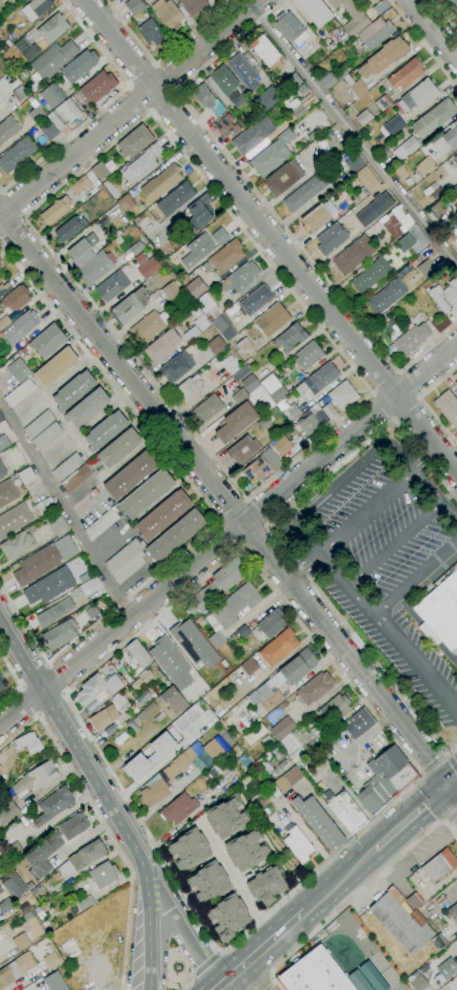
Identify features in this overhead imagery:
building: (19, 0)
building: (178, 0)
building: (212, 0)
building: (1, 1)
building: (452, 2)
building: (134, 6)
building: (193, 6)
building: (380, 7)
building: (36, 8)
building: (315, 11)
building: (167, 15)
road: (444, 15)
building: (351, 16)
building: (291, 28)
building: (52, 29)
road: (433, 30)
building: (151, 33)
building: (375, 33)
building: (1, 39)
road: (422, 43)
building: (7, 44)
building: (26, 49)
building: (267, 54)
building: (384, 57)
road: (162, 59)
building: (52, 60)
building: (79, 66)
building: (3, 67)
building: (243, 72)
building: (23, 74)
building: (406, 74)
road: (143, 75)
road: (166, 77)
building: (332, 78)
building: (224, 85)
building: (34, 86)
building: (355, 87)
building: (96, 88)
building: (19, 93)
building: (112, 93)
building: (52, 95)
building: (419, 95)
road: (138, 98)
building: (268, 98)
building: (207, 100)
road: (162, 102)
building: (383, 103)
road: (107, 105)
road: (129, 107)
building: (69, 109)
building: (36, 114)
building: (364, 118)
building: (433, 119)
building: (56, 120)
building: (392, 125)
building: (226, 126)
building: (8, 129)
building: (49, 130)
road: (354, 134)
building: (312, 135)
building: (253, 136)
building: (446, 139)
building: (134, 141)
building: (406, 148)
building: (17, 154)
building: (272, 154)
building: (456, 157)
building: (354, 163)
building: (142, 164)
building: (456, 168)
building: (103, 169)
building: (423, 169)
building: (284, 177)
building: (366, 180)
building: (161, 182)
building: (79, 185)
building: (456, 185)
road: (1, 190)
building: (427, 191)
building: (306, 192)
building: (175, 199)
building: (451, 200)
building: (357, 201)
building: (126, 202)
road: (13, 204)
road: (266, 204)
building: (373, 208)
building: (437, 209)
building: (55, 210)
building: (200, 211)
building: (316, 218)
building: (396, 221)
building: (102, 222)
road: (11, 226)
building: (70, 228)
building: (117, 233)
building: (380, 236)
building: (219, 237)
road: (270, 237)
building: (331, 238)
building: (405, 242)
building: (136, 247)
building: (148, 247)
building: (82, 250)
building: (198, 250)
building: (354, 255)
building: (226, 256)
building: (0, 260)
building: (146, 265)
building: (0, 266)
building: (96, 267)
building: (426, 268)
building: (370, 275)
building: (240, 277)
building: (112, 285)
building: (196, 287)
building: (4, 288)
building: (171, 292)
building: (386, 296)
building: (445, 296)
building: (255, 300)
building: (13, 303)
building: (129, 307)
building: (209, 307)
building: (272, 319)
building: (202, 322)
building: (20, 327)
building: (149, 327)
building: (224, 327)
building: (290, 337)
building: (412, 338)
building: (48, 340)
building: (216, 345)
building: (162, 346)
building: (244, 347)
building: (308, 354)
building: (230, 365)
building: (176, 366)
building: (55, 367)
building: (19, 370)
building: (244, 370)
building: (237, 376)
building: (317, 380)
road: (384, 381)
building: (250, 382)
building: (456, 383)
road: (408, 384)
building: (273, 387)
building: (189, 389)
building: (73, 390)
building: (19, 393)
building: (239, 395)
building: (343, 395)
road: (422, 402)
road: (382, 406)
building: (87, 407)
building: (448, 408)
building: (207, 409)
road: (406, 409)
building: (289, 410)
building: (329, 410)
building: (319, 414)
building: (1, 417)
building: (235, 422)
building: (263, 422)
building: (39, 423)
building: (309, 425)
building: (105, 430)
building: (46, 436)
building: (3, 442)
building: (282, 446)
building: (118, 447)
building: (243, 449)
road: (425, 459)
building: (262, 465)
building: (67, 466)
building: (2, 472)
building: (131, 474)
building: (26, 475)
building: (77, 477)
road: (341, 481)
building: (95, 492)
building: (7, 493)
building: (146, 493)
road: (435, 494)
road: (245, 497)
road: (224, 499)
building: (43, 505)
road: (207, 505)
road: (232, 509)
road: (64, 510)
road: (255, 511)
road: (366, 511)
building: (163, 514)
building: (14, 519)
building: (101, 523)
building: (58, 524)
road: (227, 534)
road: (229, 534)
building: (175, 535)
road: (257, 539)
road: (278, 540)
road: (394, 542)
building: (16, 545)
parking lot: (382, 558)
building: (126, 560)
building: (37, 565)
road: (302, 565)
road: (333, 568)
road: (416, 582)
building: (218, 584)
building: (49, 585)
building: (90, 585)
building: (231, 611)
building: (55, 612)
building: (91, 612)
building: (440, 613)
building: (199, 620)
building: (272, 622)
road: (426, 629)
building: (243, 631)
building: (59, 634)
building: (193, 643)
building: (278, 647)
road: (402, 647)
building: (138, 655)
building: (170, 662)
building: (249, 666)
building: (142, 679)
road: (16, 680)
building: (281, 681)
building: (2, 685)
building: (98, 687)
building: (314, 688)
building: (118, 699)
building: (173, 700)
building: (107, 703)
building: (283, 704)
building: (335, 708)
building: (103, 717)
building: (159, 717)
building: (186, 717)
building: (137, 721)
building: (358, 723)
building: (282, 728)
building: (111, 729)
building: (235, 736)
road: (362, 736)
road: (73, 739)
building: (267, 741)
building: (28, 742)
building: (212, 750)
building: (301, 750)
building: (149, 755)
road: (444, 755)
road: (447, 756)
building: (268, 759)
building: (243, 760)
building: (179, 762)
road: (432, 764)
road: (452, 764)
building: (0, 768)
road: (421, 774)
building: (1, 775)
building: (207, 775)
building: (34, 778)
building: (288, 779)
building: (385, 779)
road: (451, 781)
traffic signals: (445, 787)
road: (403, 790)
building: (154, 792)
road: (451, 795)
building: (276, 796)
road: (166, 797)
building: (53, 805)
building: (179, 808)
building: (345, 811)
building: (8, 813)
building: (225, 816)
road: (452, 816)
road: (409, 818)
building: (319, 822)
road: (446, 822)
road: (102, 823)
building: (298, 843)
building: (54, 844)
building: (187, 849)
building: (15, 850)
building: (245, 850)
building: (82, 858)
building: (439, 865)
building: (103, 874)
road: (236, 879)
road: (339, 880)
building: (207, 882)
building: (13, 884)
building: (266, 886)
building: (35, 890)
road: (354, 896)
building: (86, 902)
building: (5, 904)
building: (452, 912)
building: (227, 916)
building: (402, 919)
building: (45, 922)
road: (183, 926)
road: (148, 927)
road: (274, 938)
building: (440, 940)
building: (21, 941)
building: (51, 960)
road: (205, 964)
building: (16, 968)
building: (446, 968)
building: (314, 973)
road: (232, 976)
building: (372, 976)
road: (252, 977)
building: (358, 980)
building: (55, 981)
road: (188, 983)
building: (420, 983)
road: (264, 984)
road: (218, 988)
park: (394, 988)
building: (456, 988)

